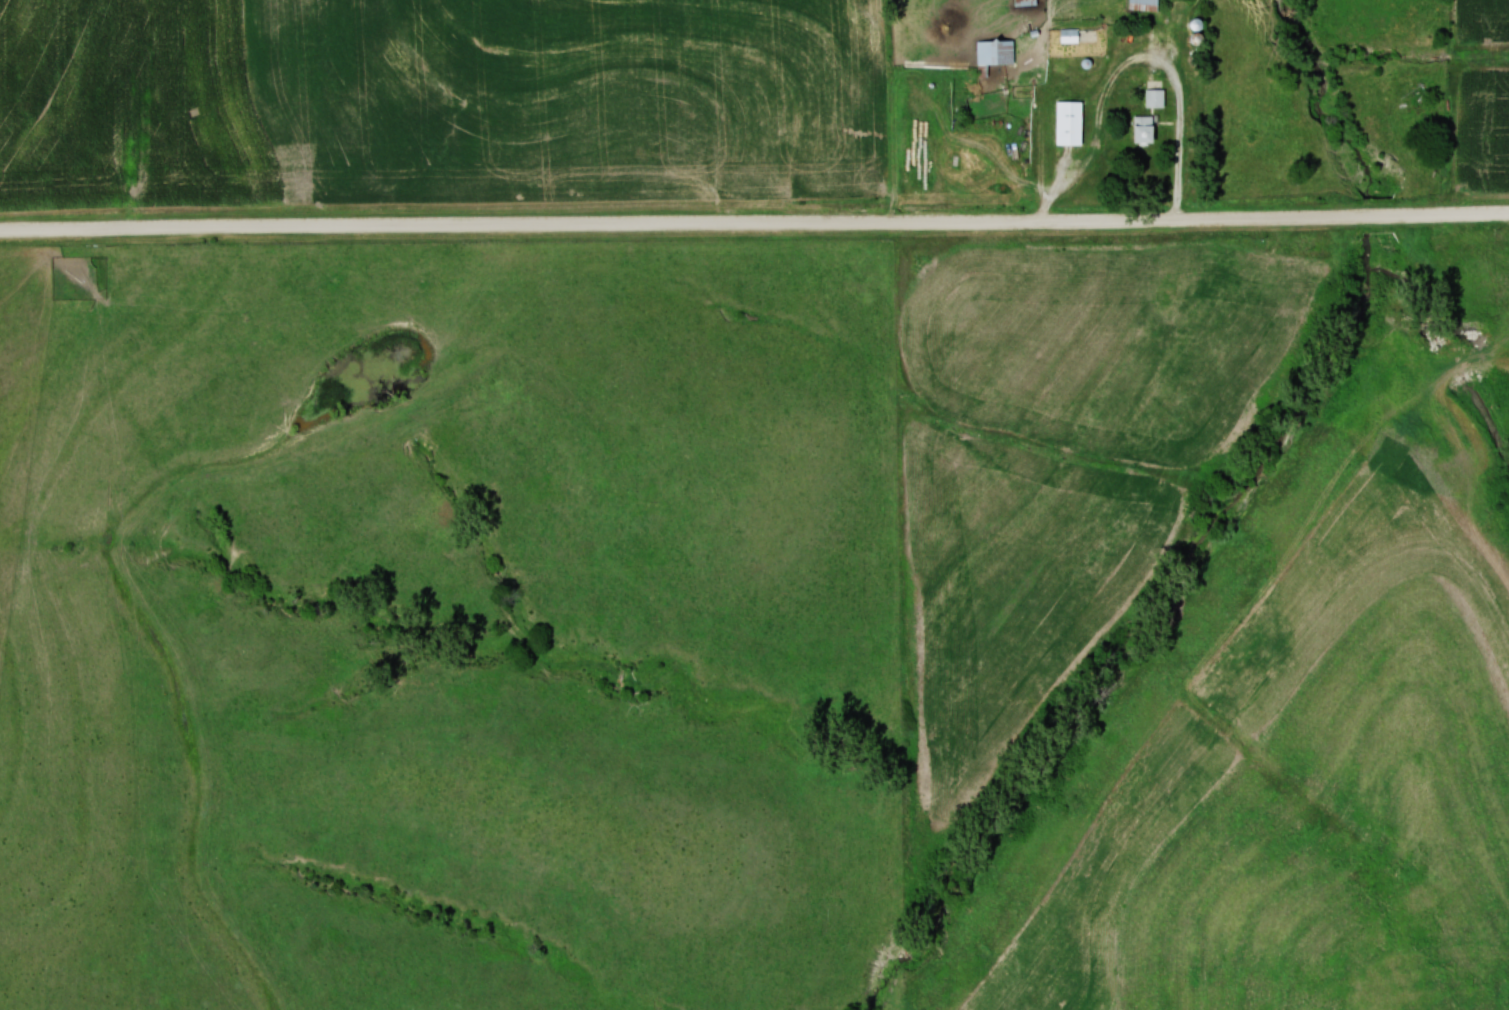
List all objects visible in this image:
building: (1143, 5)
building: (1069, 36)
building: (995, 53)
road: (1134, 61)
building: (1155, 99)
building: (1069, 124)
building: (1144, 131)
road: (754, 224)
building: (1167, 286)

